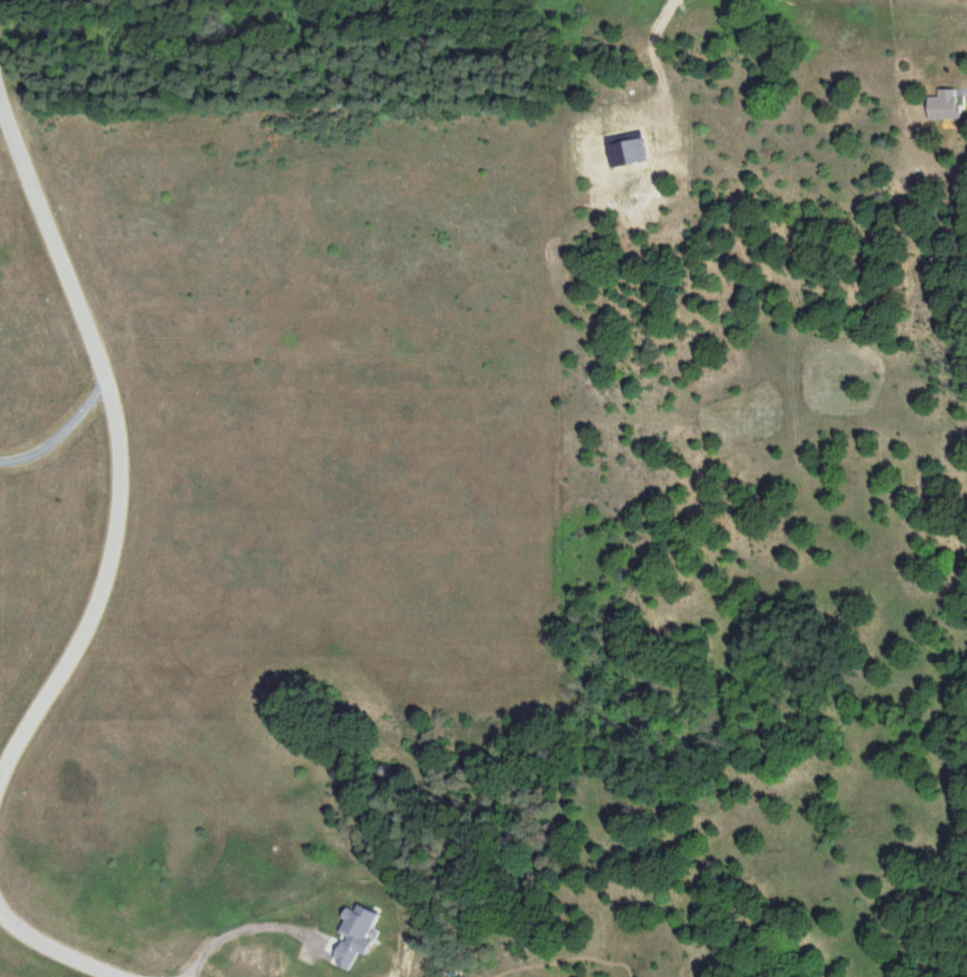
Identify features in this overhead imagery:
road: (117, 444)
road: (244, 926)
road: (52, 950)

